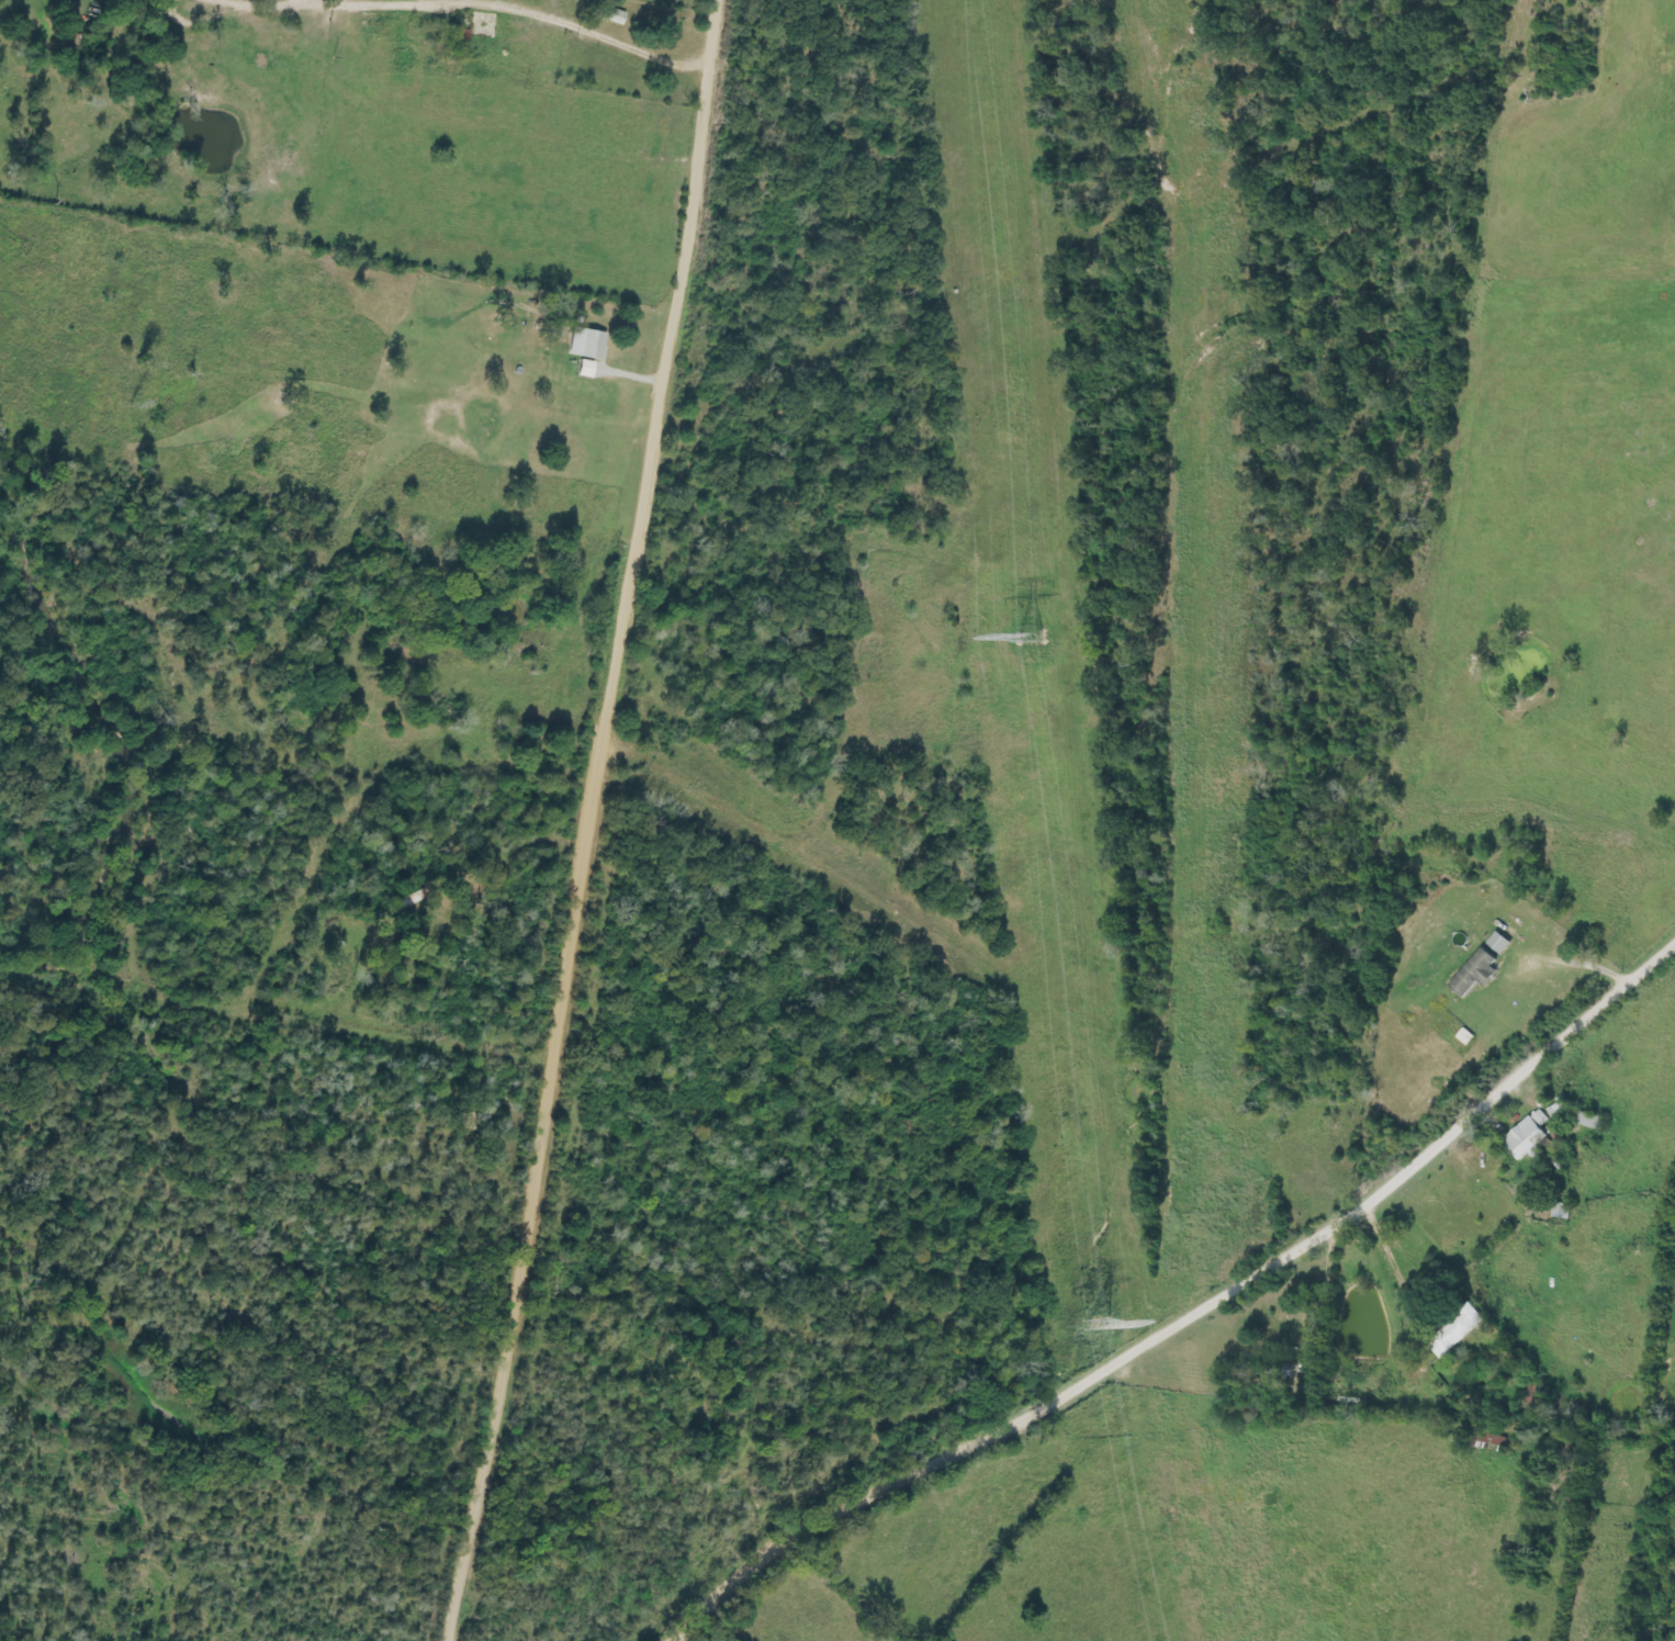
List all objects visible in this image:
building: (615, 15)
building: (588, 344)
building: (587, 369)
power tower: (1026, 640)
railway: (1227, 821)
road: (602, 822)
building: (1500, 943)
building: (1476, 974)
building: (1587, 1121)
building: (1527, 1137)
road: (1193, 1318)
power tower: (1095, 1324)
building: (1455, 1331)

